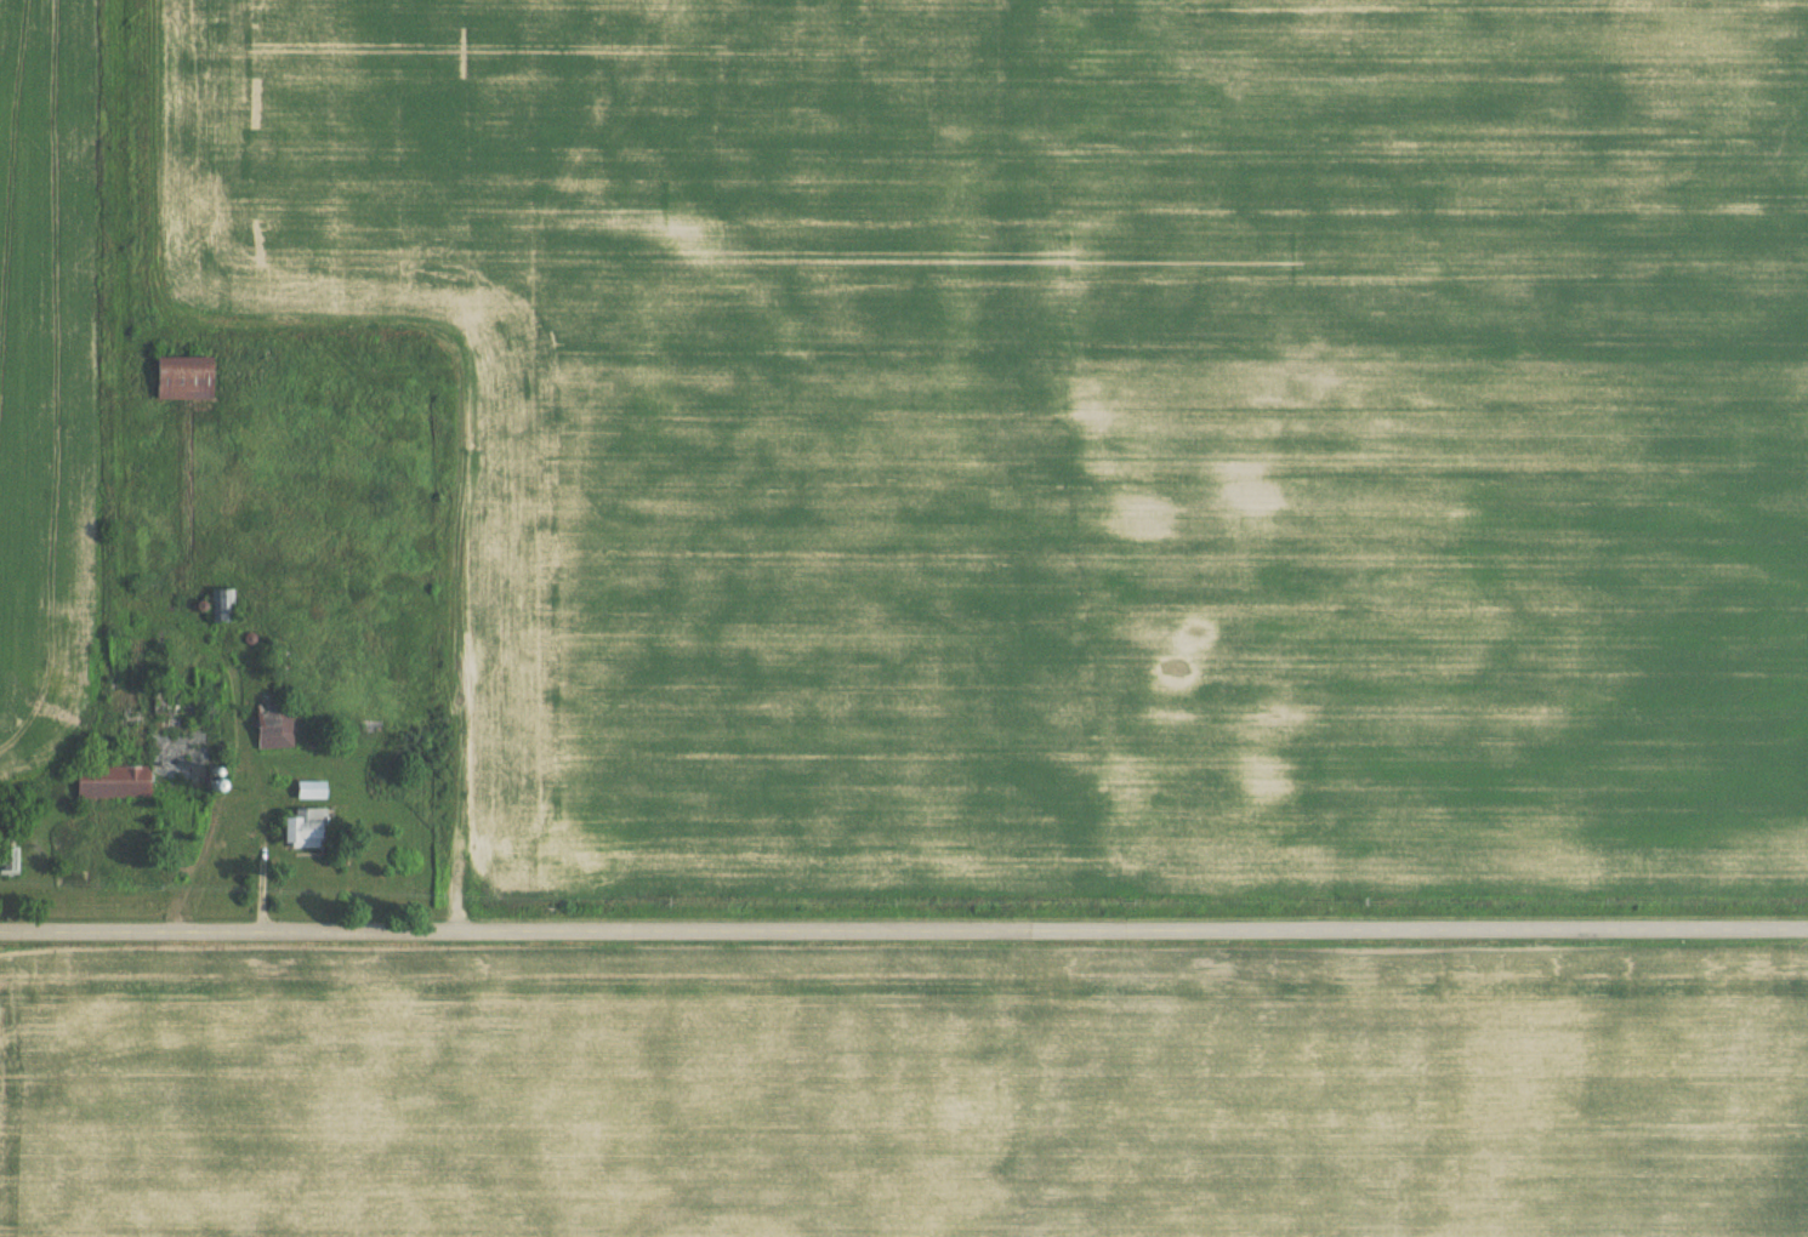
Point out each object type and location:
building: (302, 814)
road: (1408, 934)
road: (504, 936)

